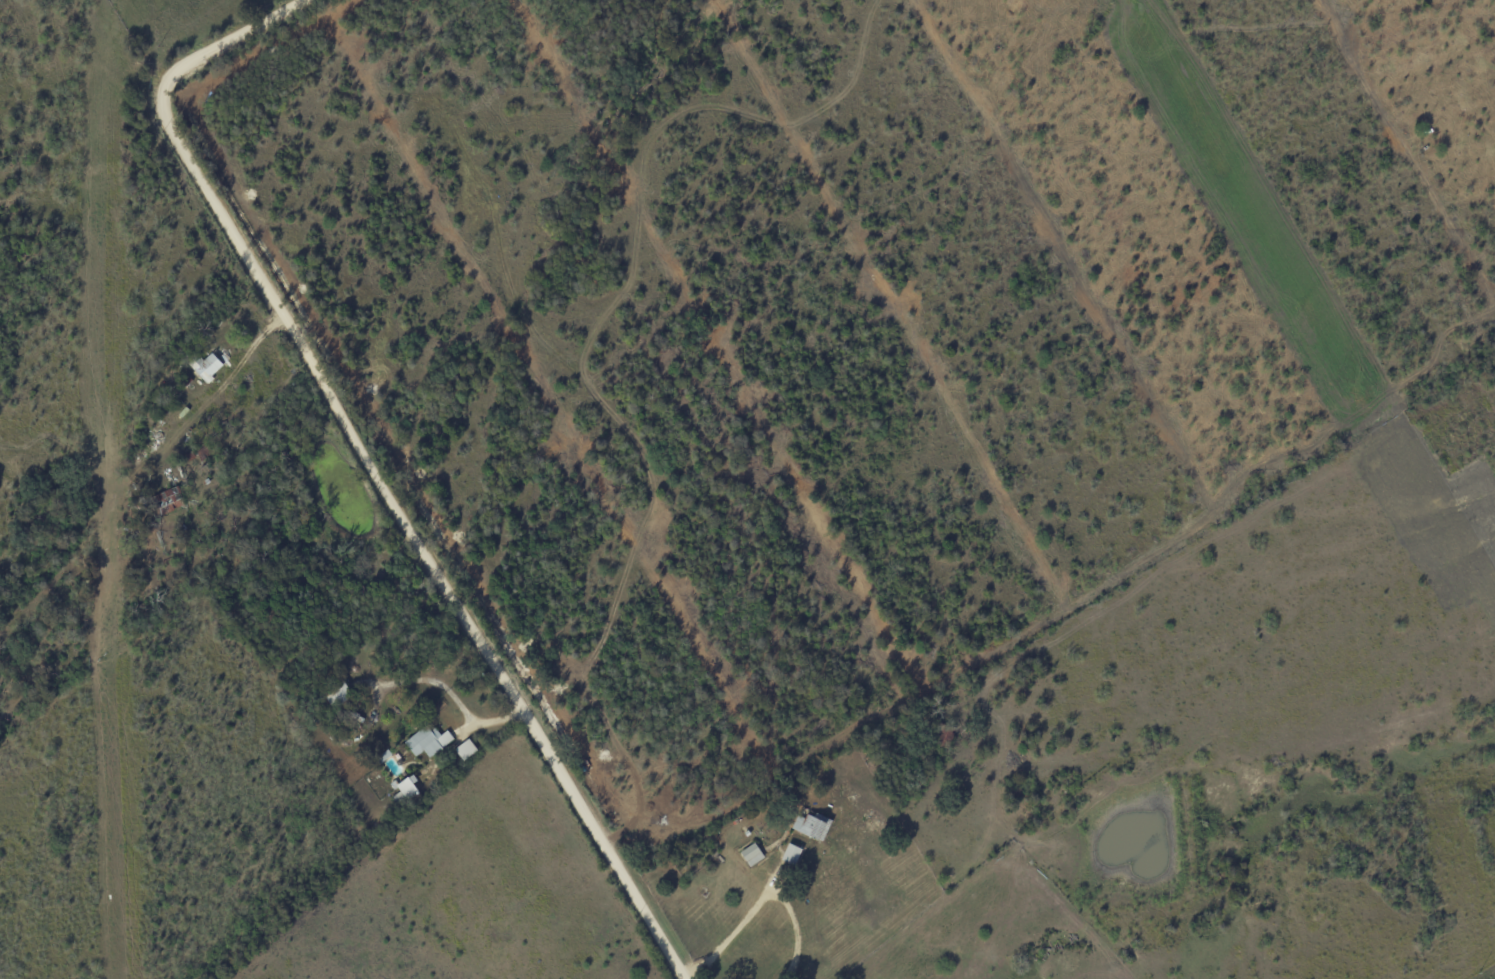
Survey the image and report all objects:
building: (204, 366)
road: (364, 463)
building: (425, 741)
building: (810, 826)
building: (789, 854)
building: (750, 855)
road: (759, 898)

